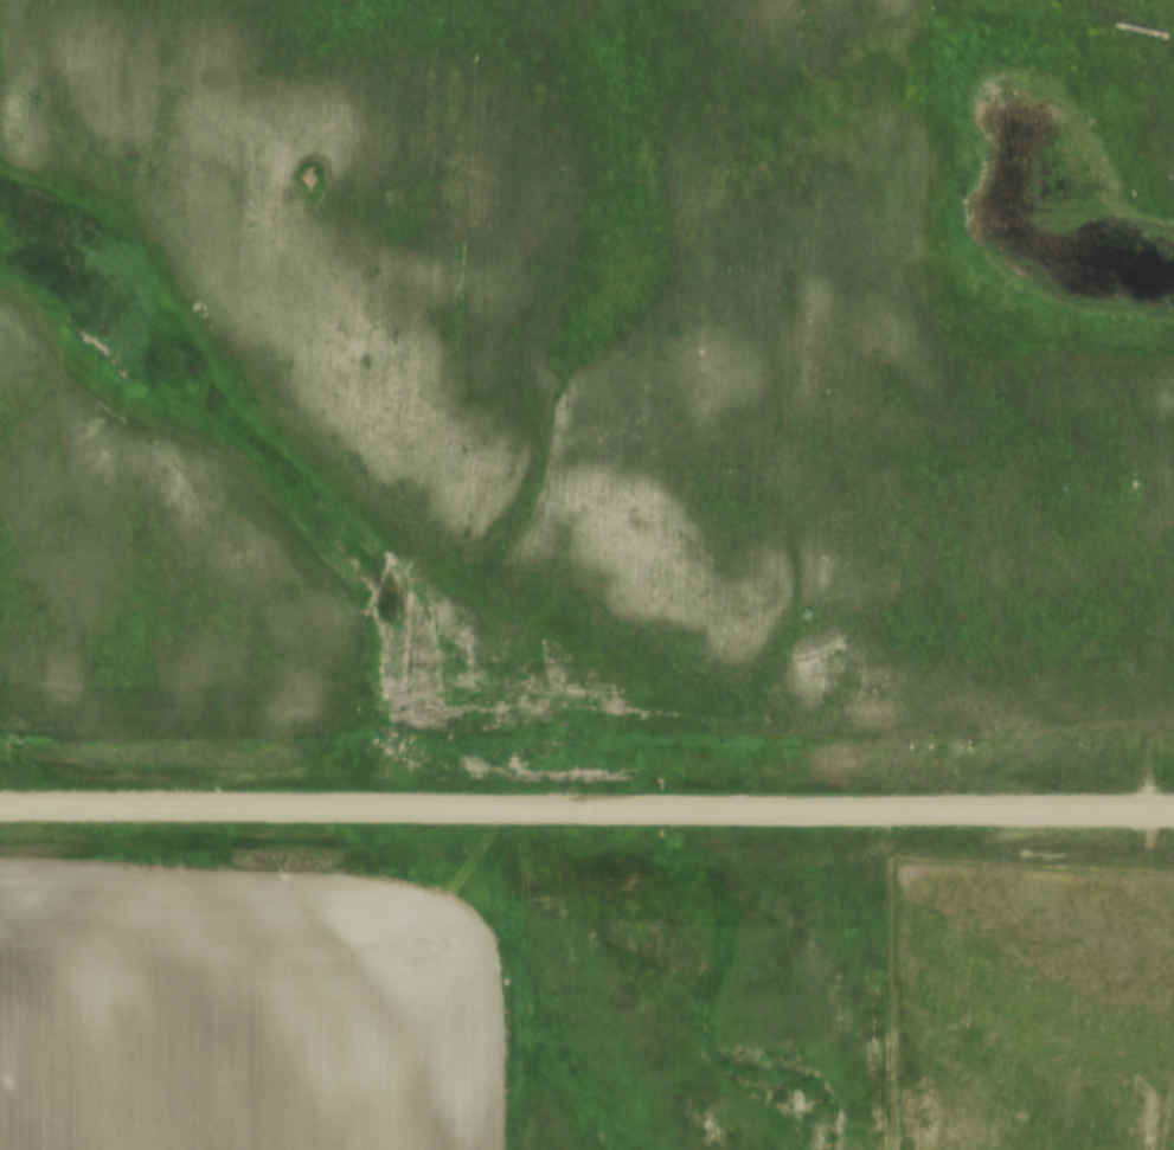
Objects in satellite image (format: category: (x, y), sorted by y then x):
road: (586, 809)

